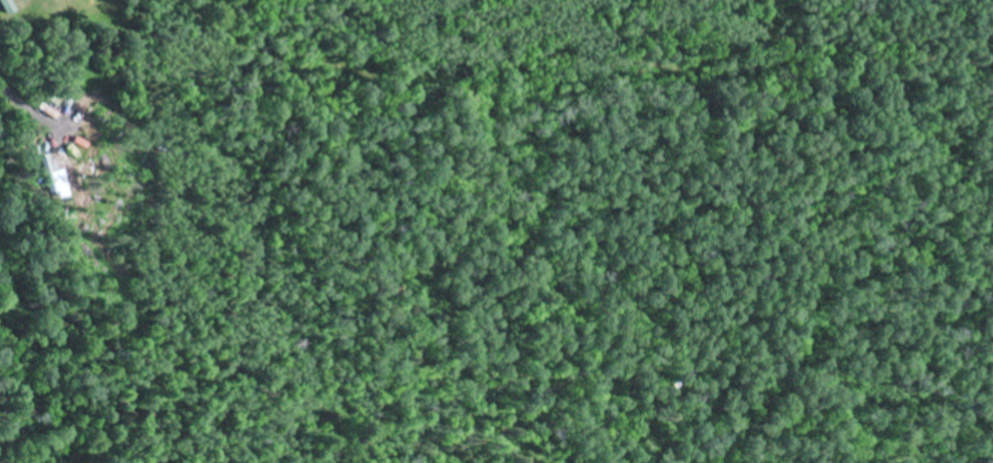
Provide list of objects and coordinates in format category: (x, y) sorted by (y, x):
building: (6, 5)
road: (25, 108)
building: (46, 171)

